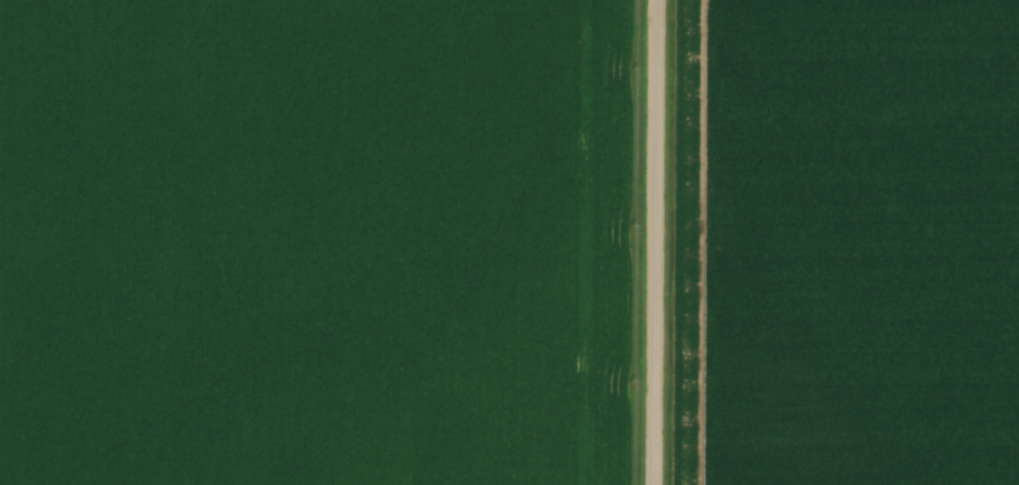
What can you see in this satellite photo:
road: (653, 242)

